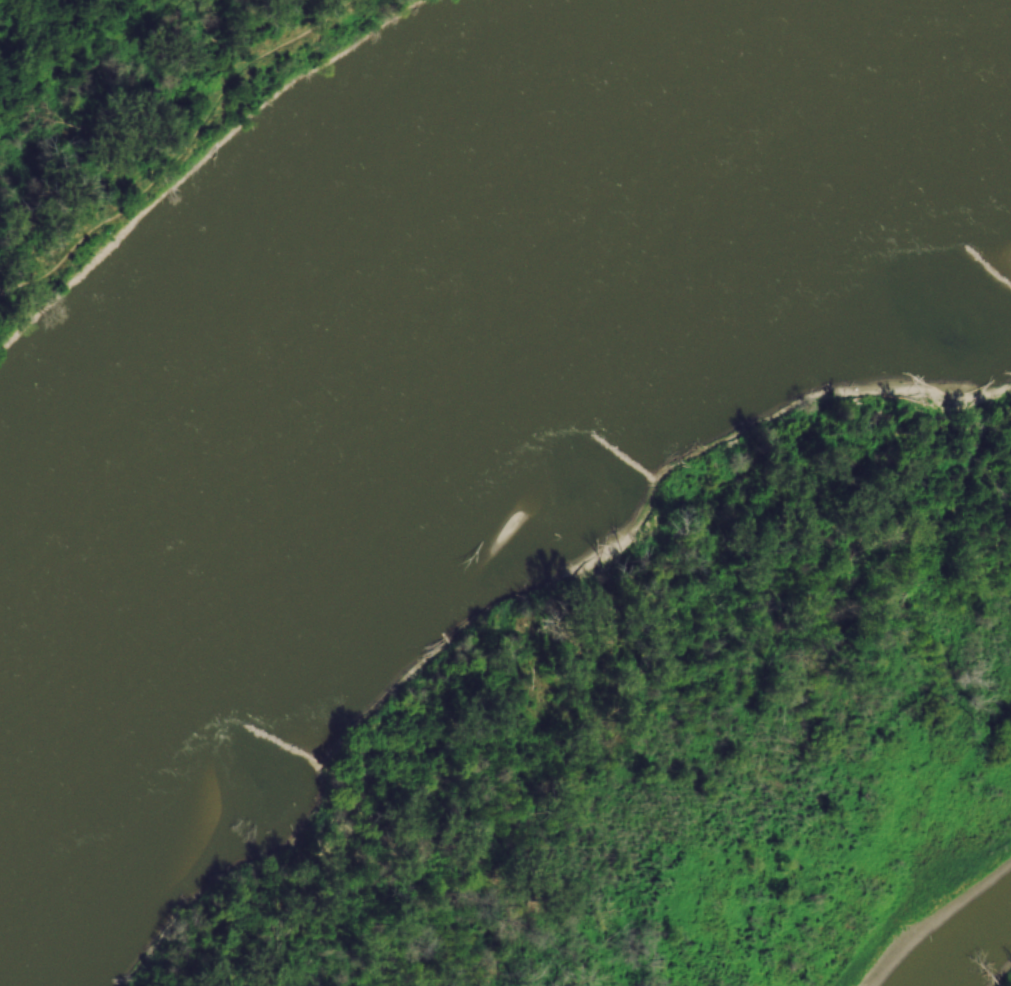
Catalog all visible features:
park: (140, 115)
road: (184, 156)
river: (452, 310)

